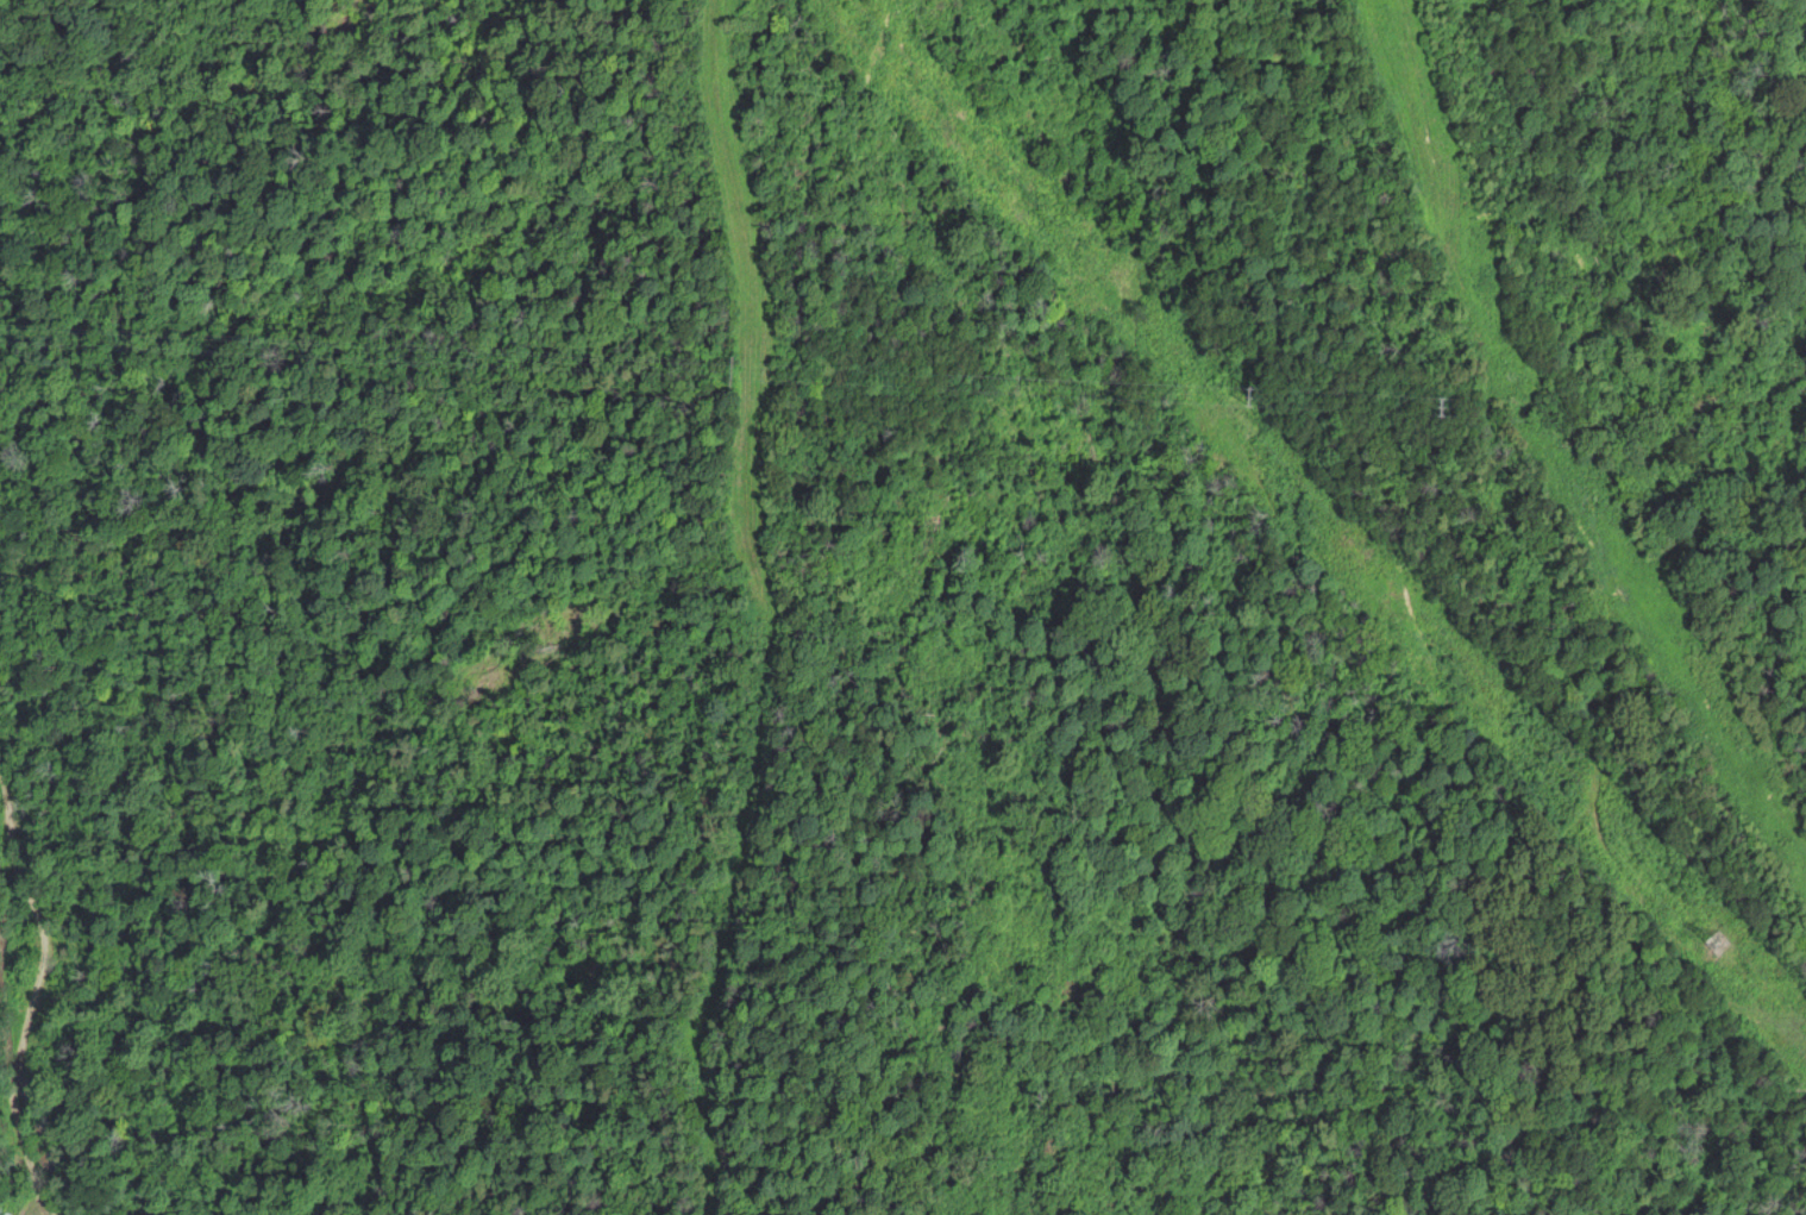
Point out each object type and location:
power tower: (1718, 944)
road: (37, 992)

